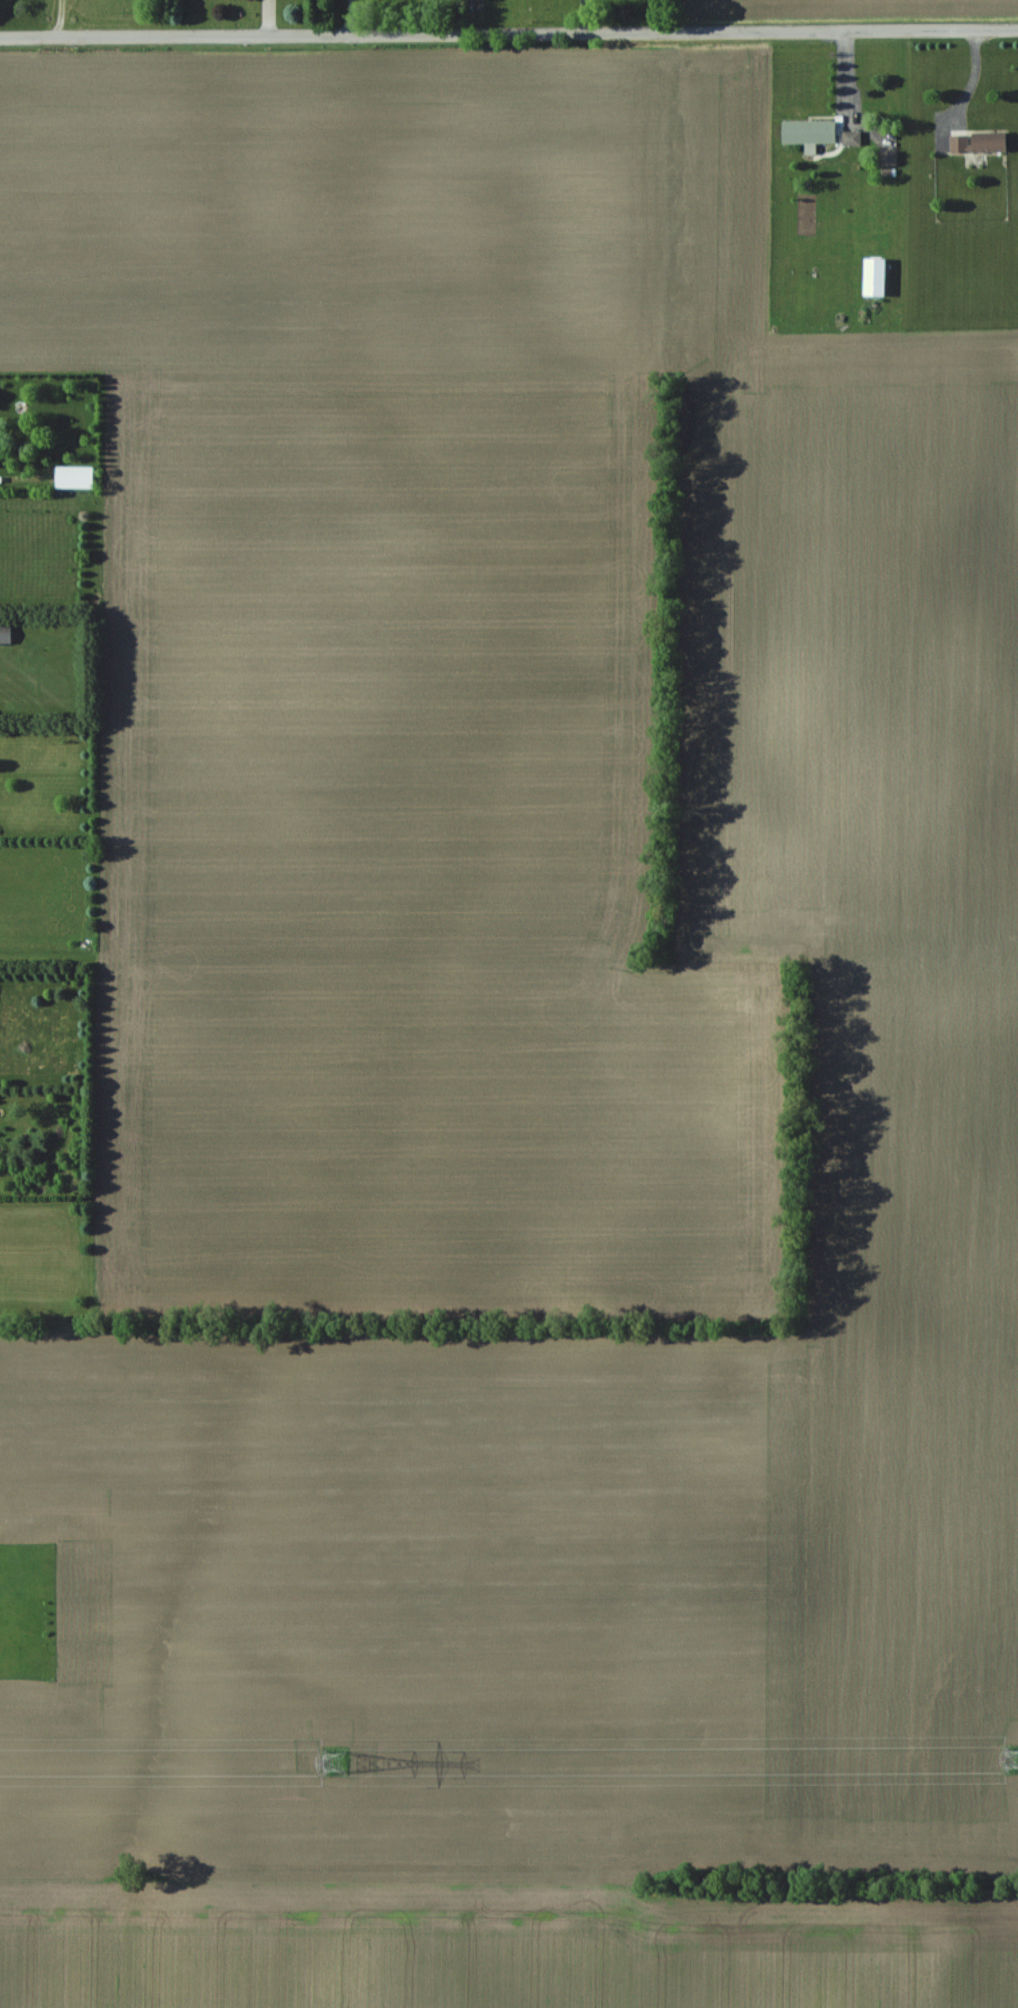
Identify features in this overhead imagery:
road: (61, 18)
road: (509, 32)
road: (970, 90)
building: (807, 132)
building: (976, 142)
building: (72, 478)
building: (4, 635)
power tower: (1013, 1758)
power tower: (334, 1762)

